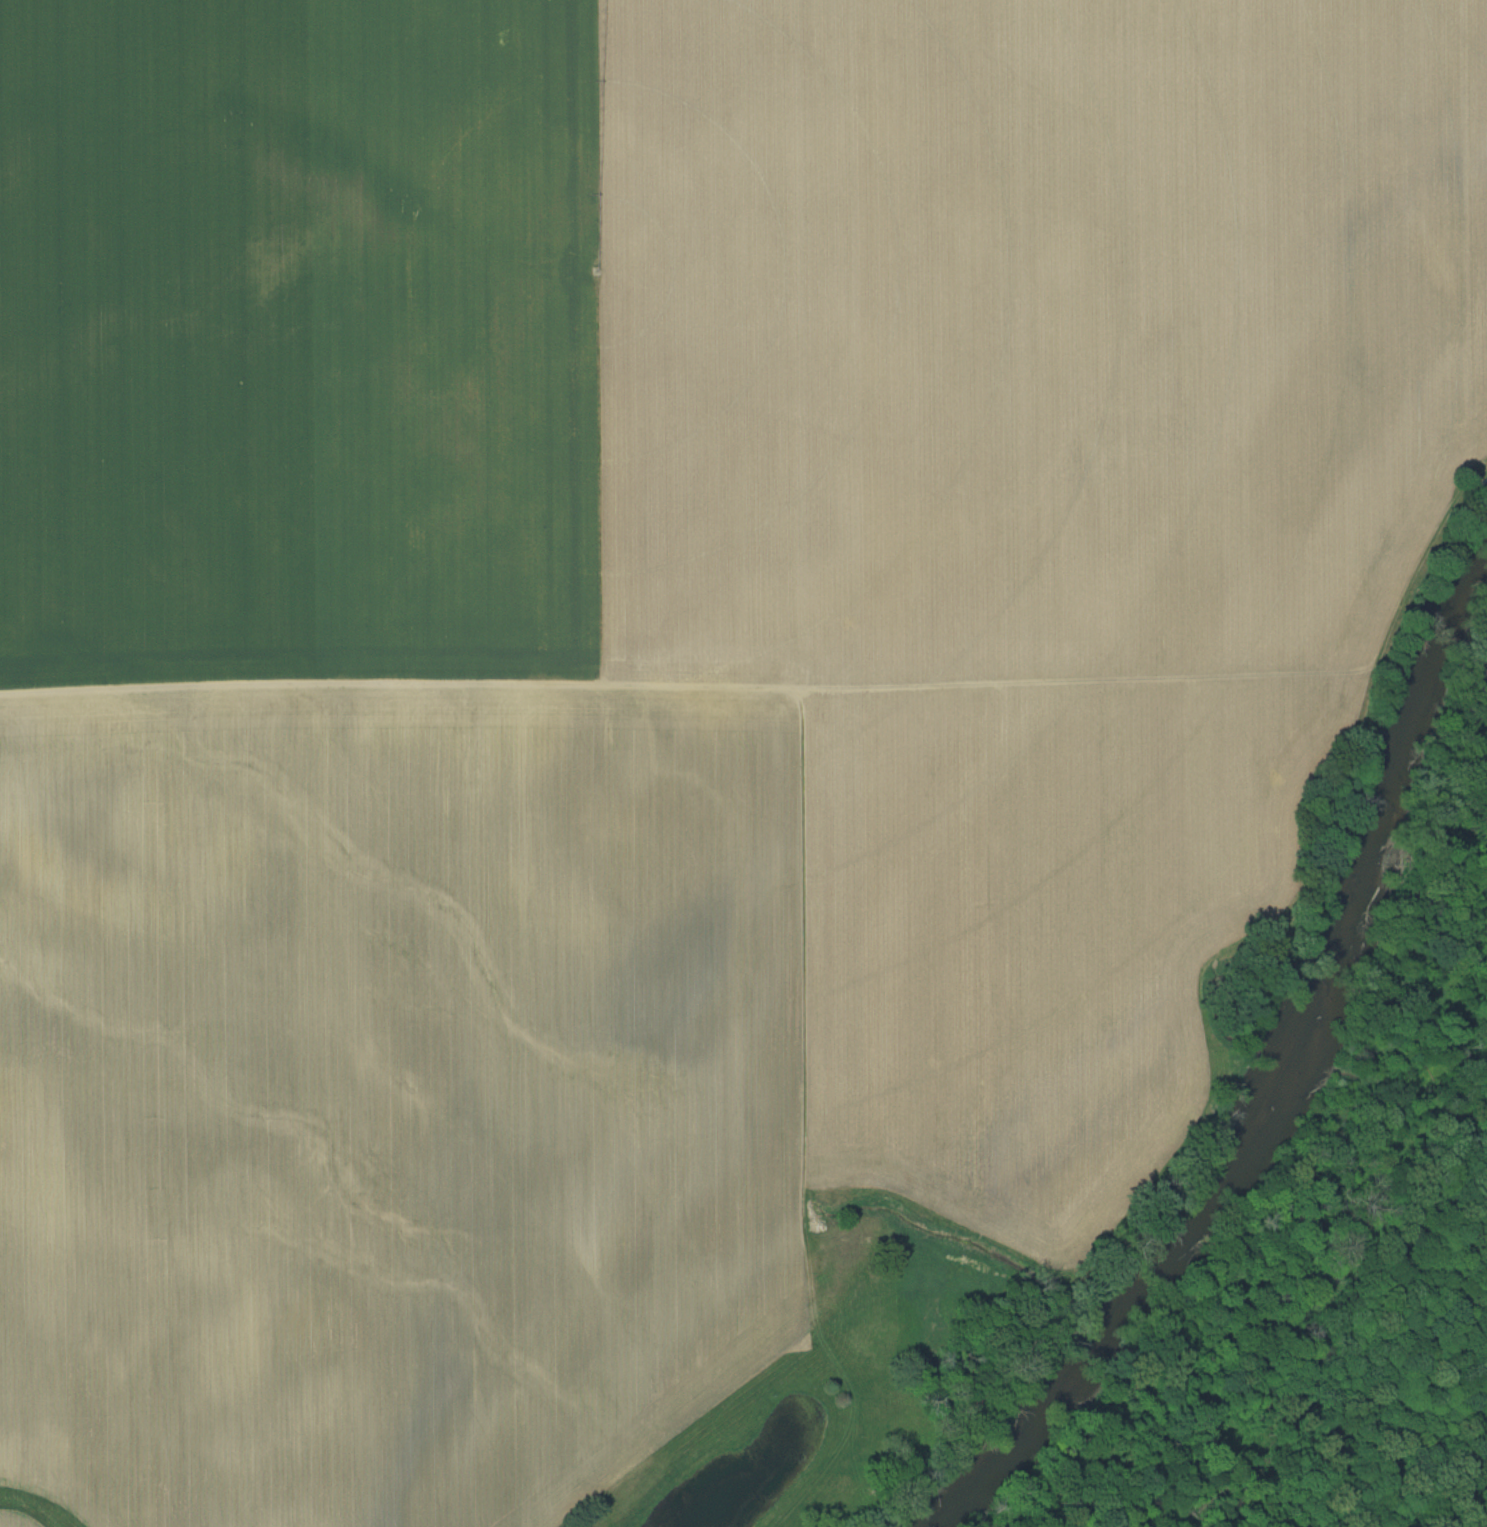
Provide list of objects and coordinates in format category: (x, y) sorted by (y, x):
river: (1275, 1096)

